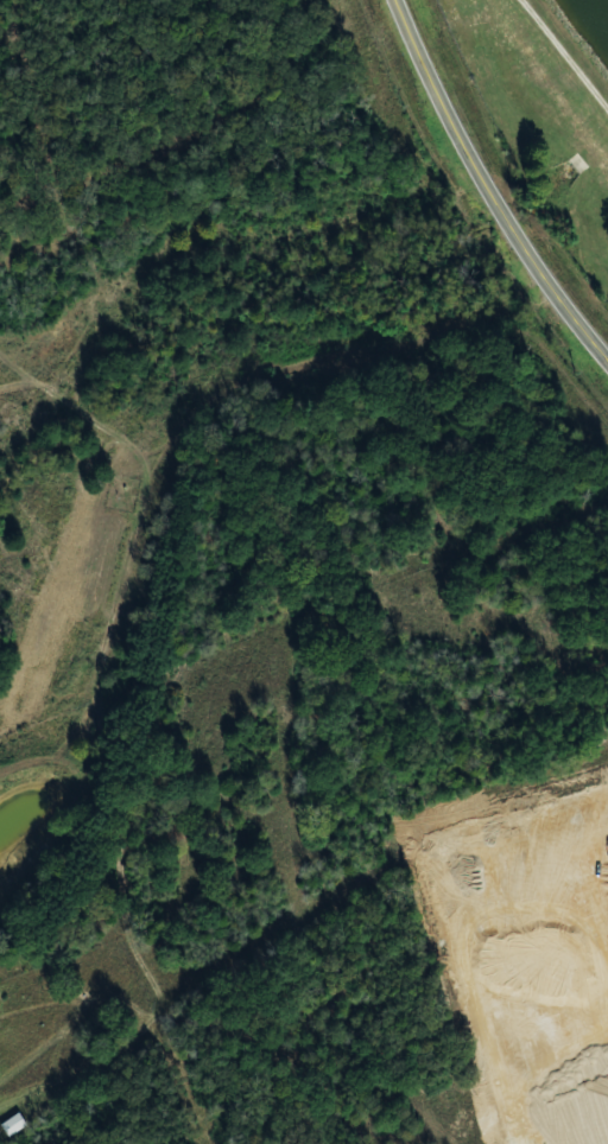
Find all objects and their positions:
road: (486, 186)

